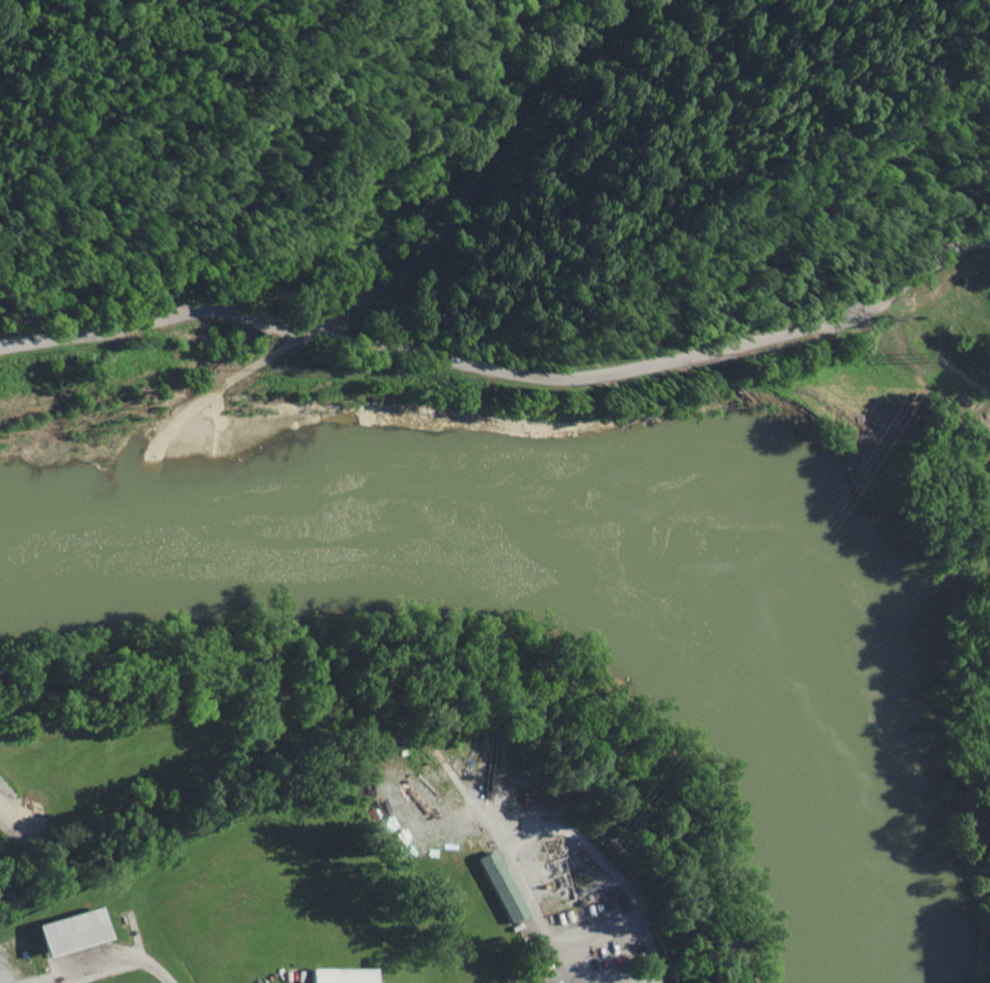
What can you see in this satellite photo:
road: (489, 153)
building: (54, 290)
road: (264, 318)
road: (120, 327)
road: (648, 363)
road: (220, 386)
river: (587, 528)
road: (561, 830)
wastewater plant: (367, 880)
building: (501, 885)
building: (71, 930)
road: (552, 949)
road: (99, 965)
building: (341, 975)

